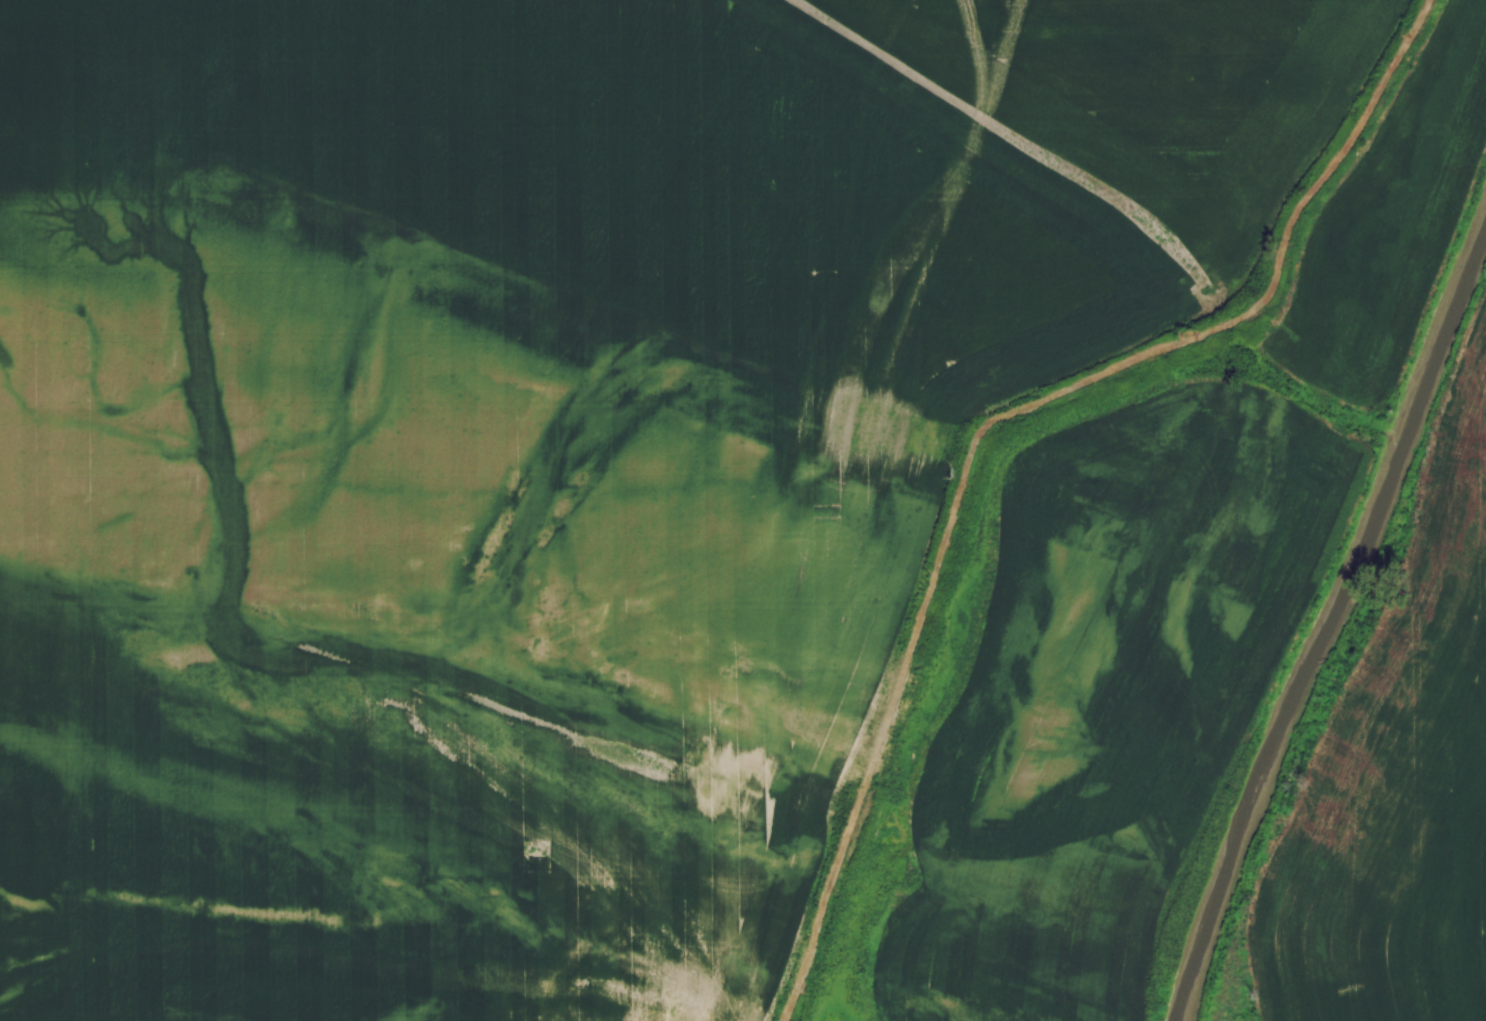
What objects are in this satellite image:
river: (1324, 607)

